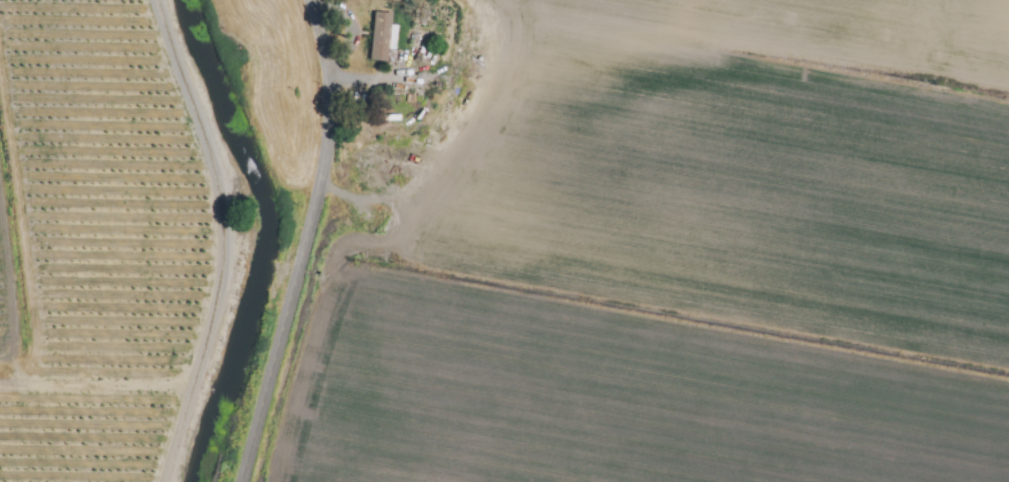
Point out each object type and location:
building: (382, 36)
road: (224, 238)
road: (306, 242)
crop: (526, 259)

